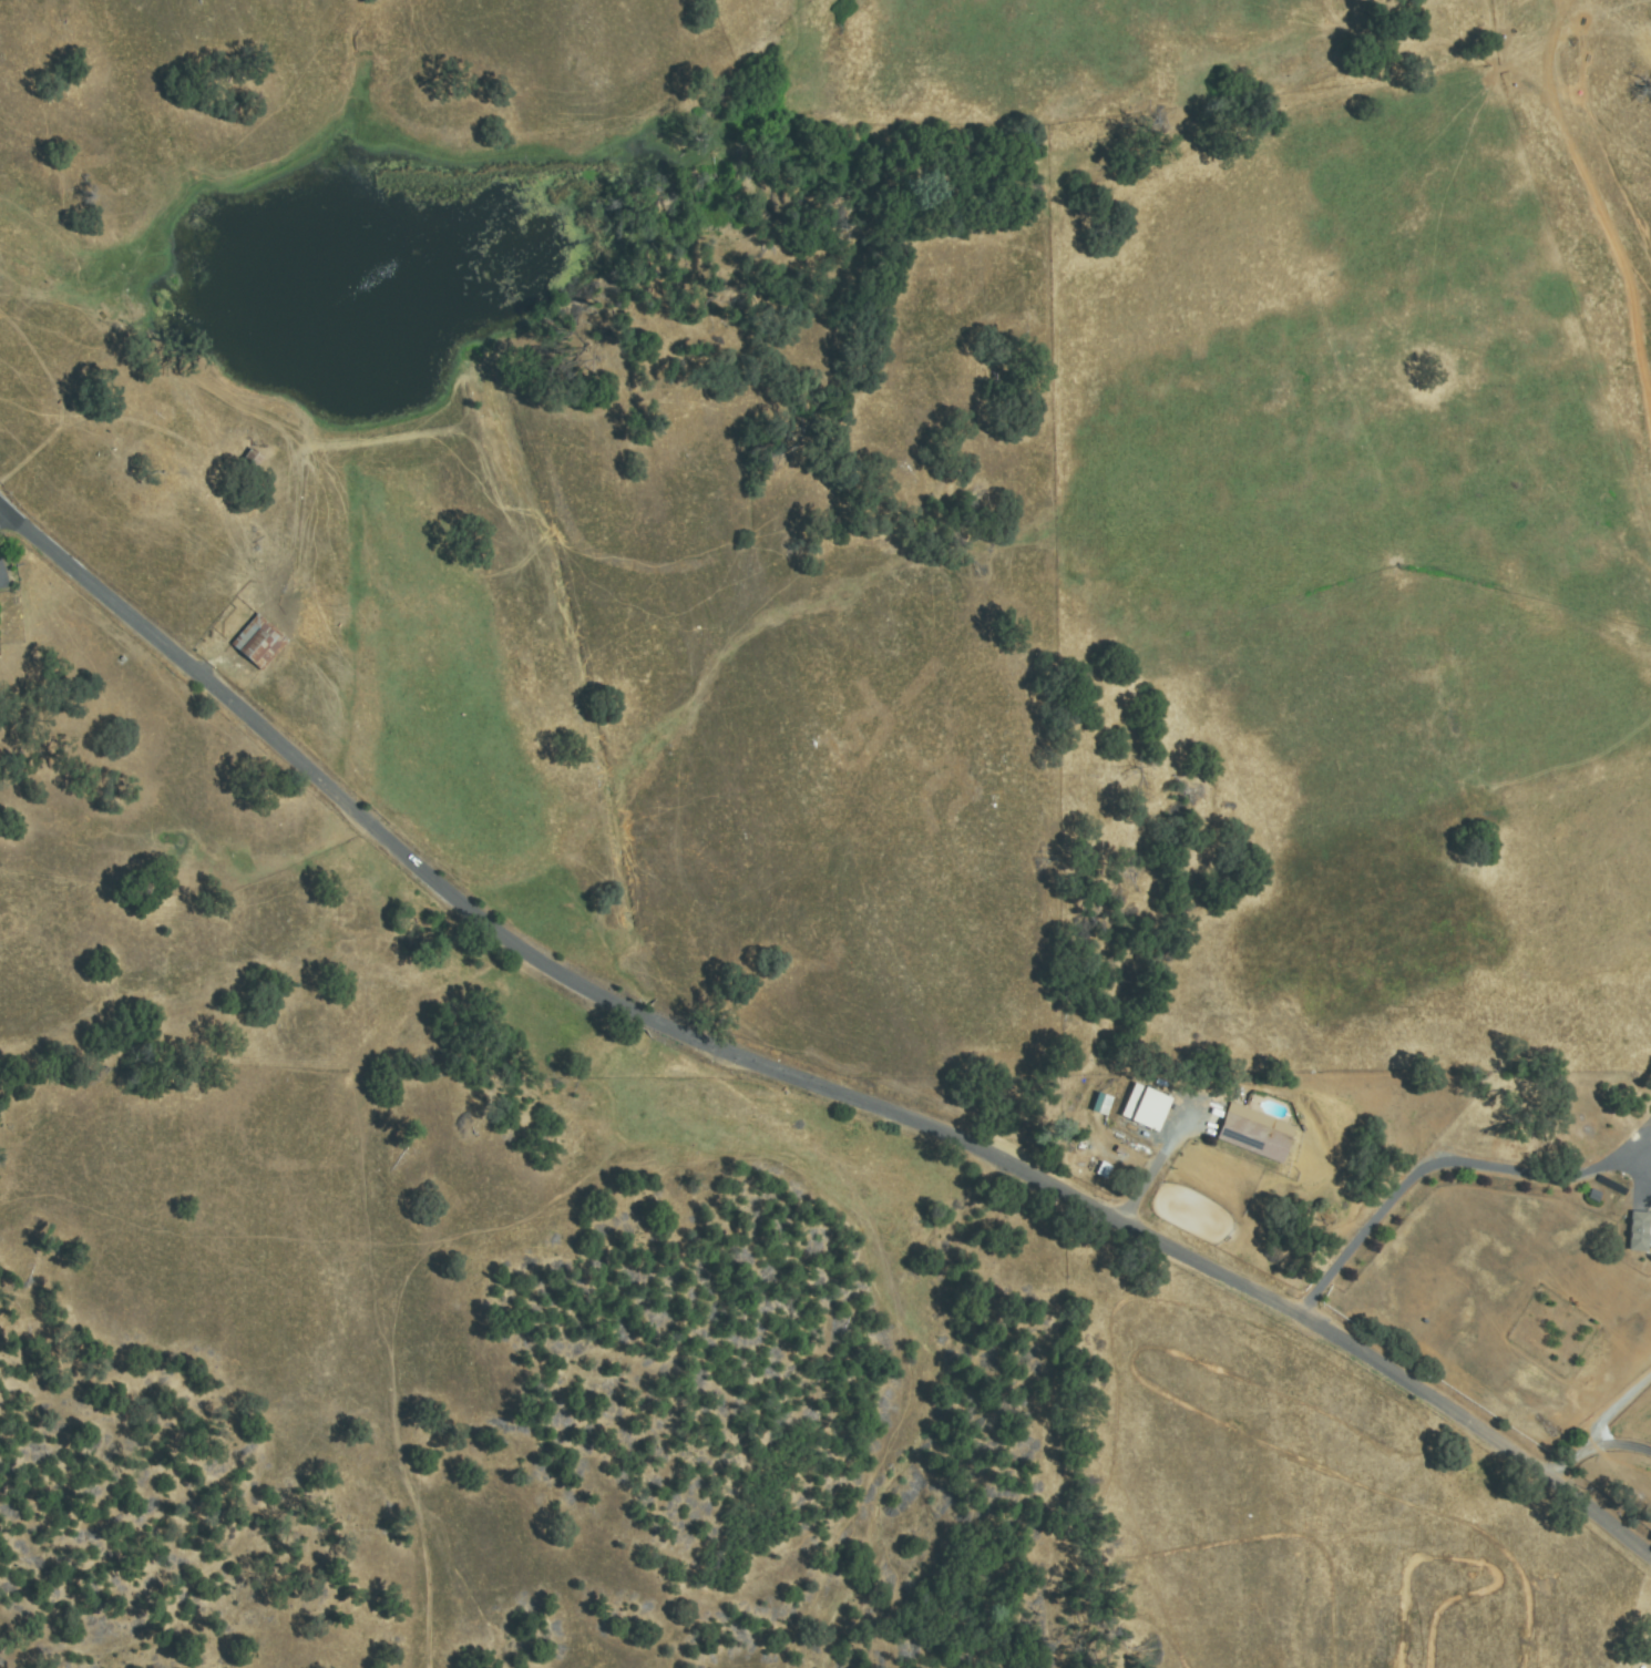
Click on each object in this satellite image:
building: (260, 459)
building: (250, 462)
building: (259, 643)
road: (791, 1079)
building: (1149, 1111)
building: (1254, 1134)
building: (1638, 1231)

